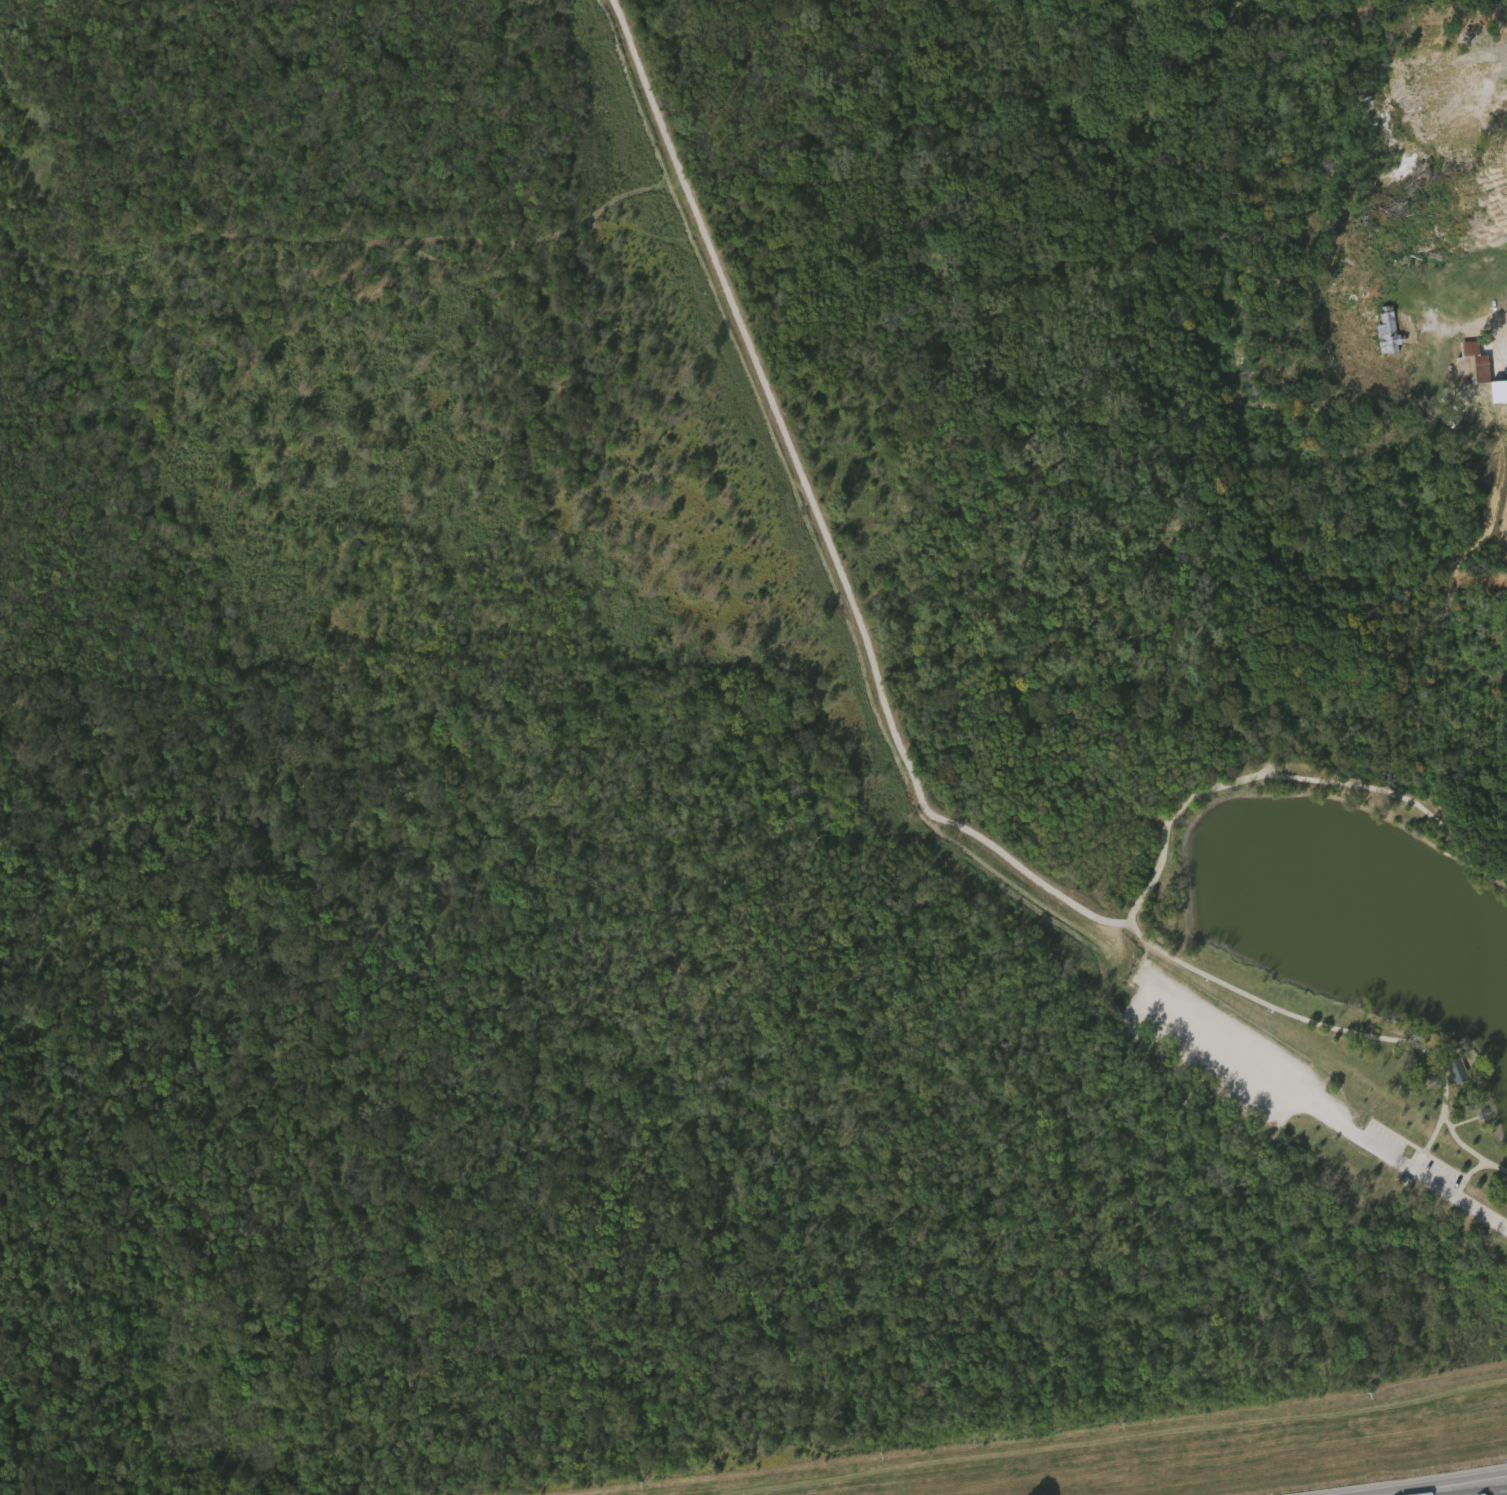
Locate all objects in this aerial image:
building: (1344, 291)
road: (1478, 323)
building: (1388, 334)
road: (807, 512)
road: (1407, 1164)
road: (1430, 1484)

